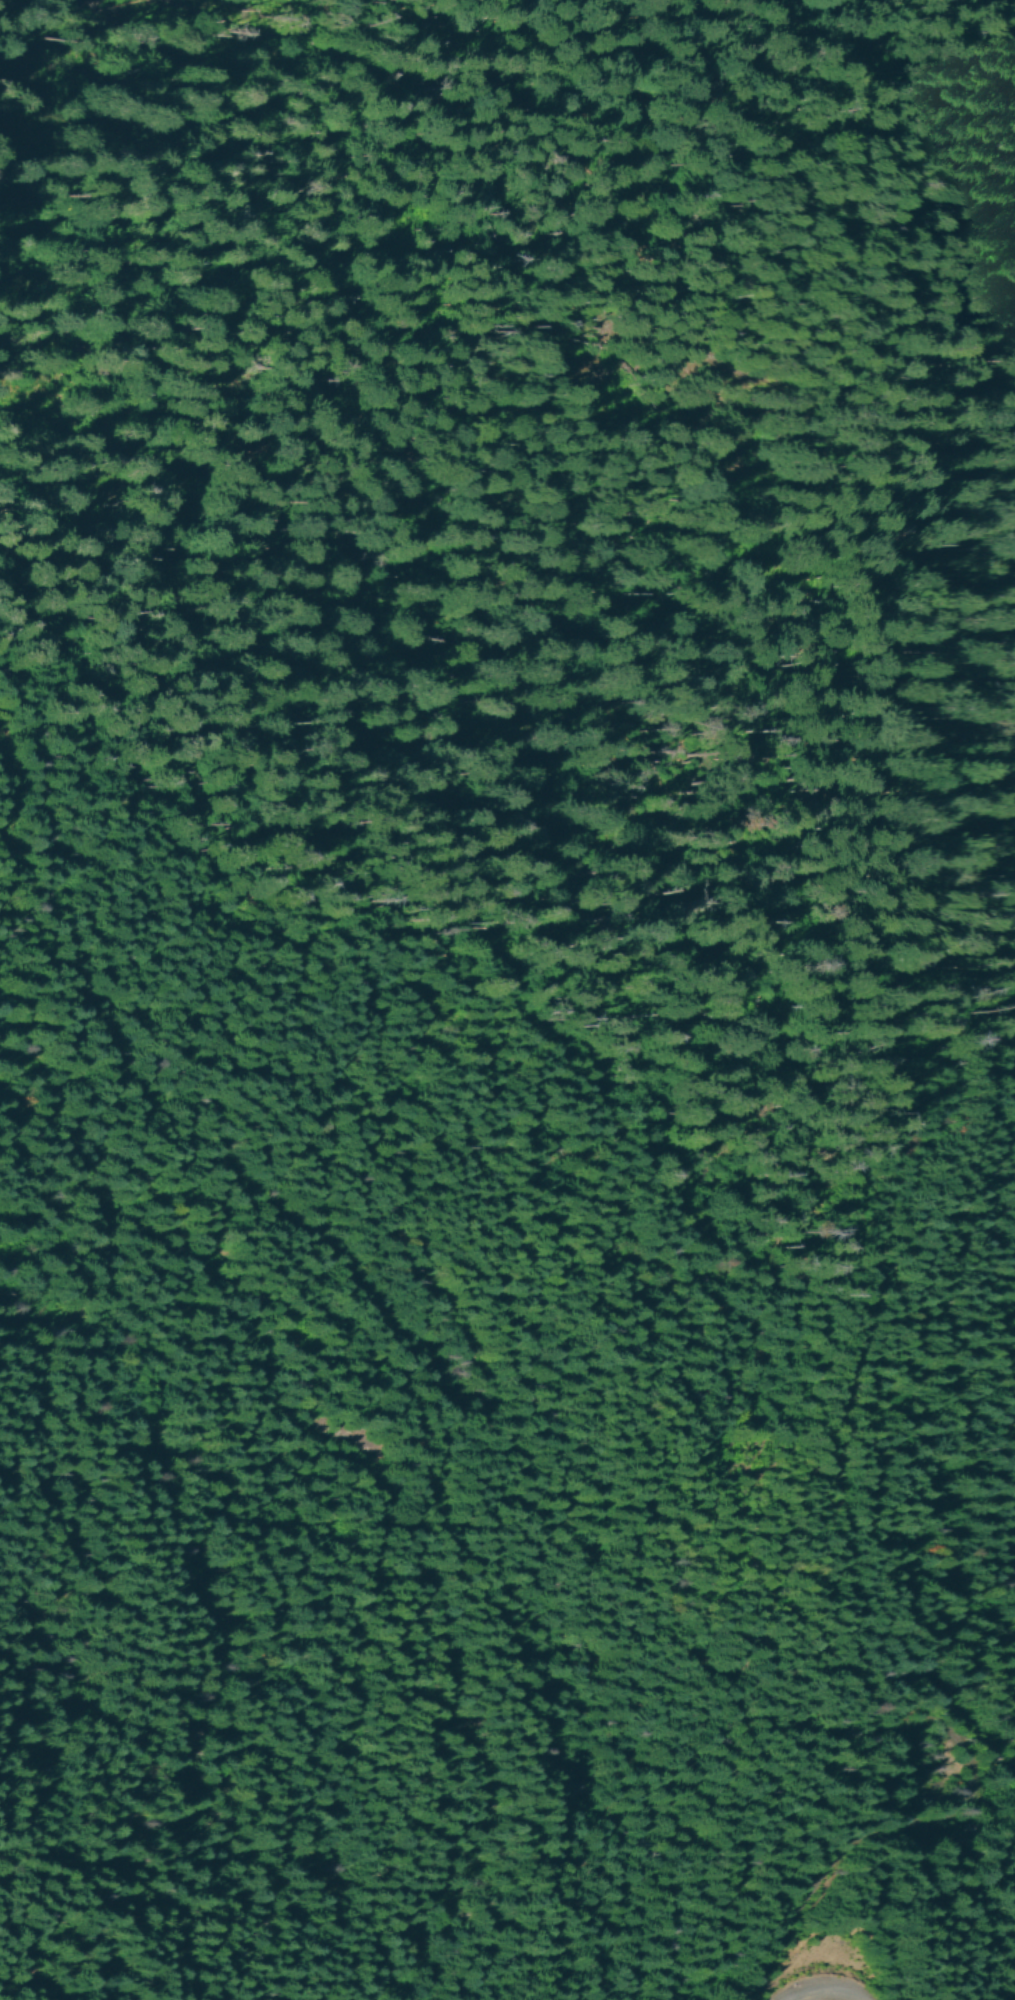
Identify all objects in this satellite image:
road: (822, 1997)

